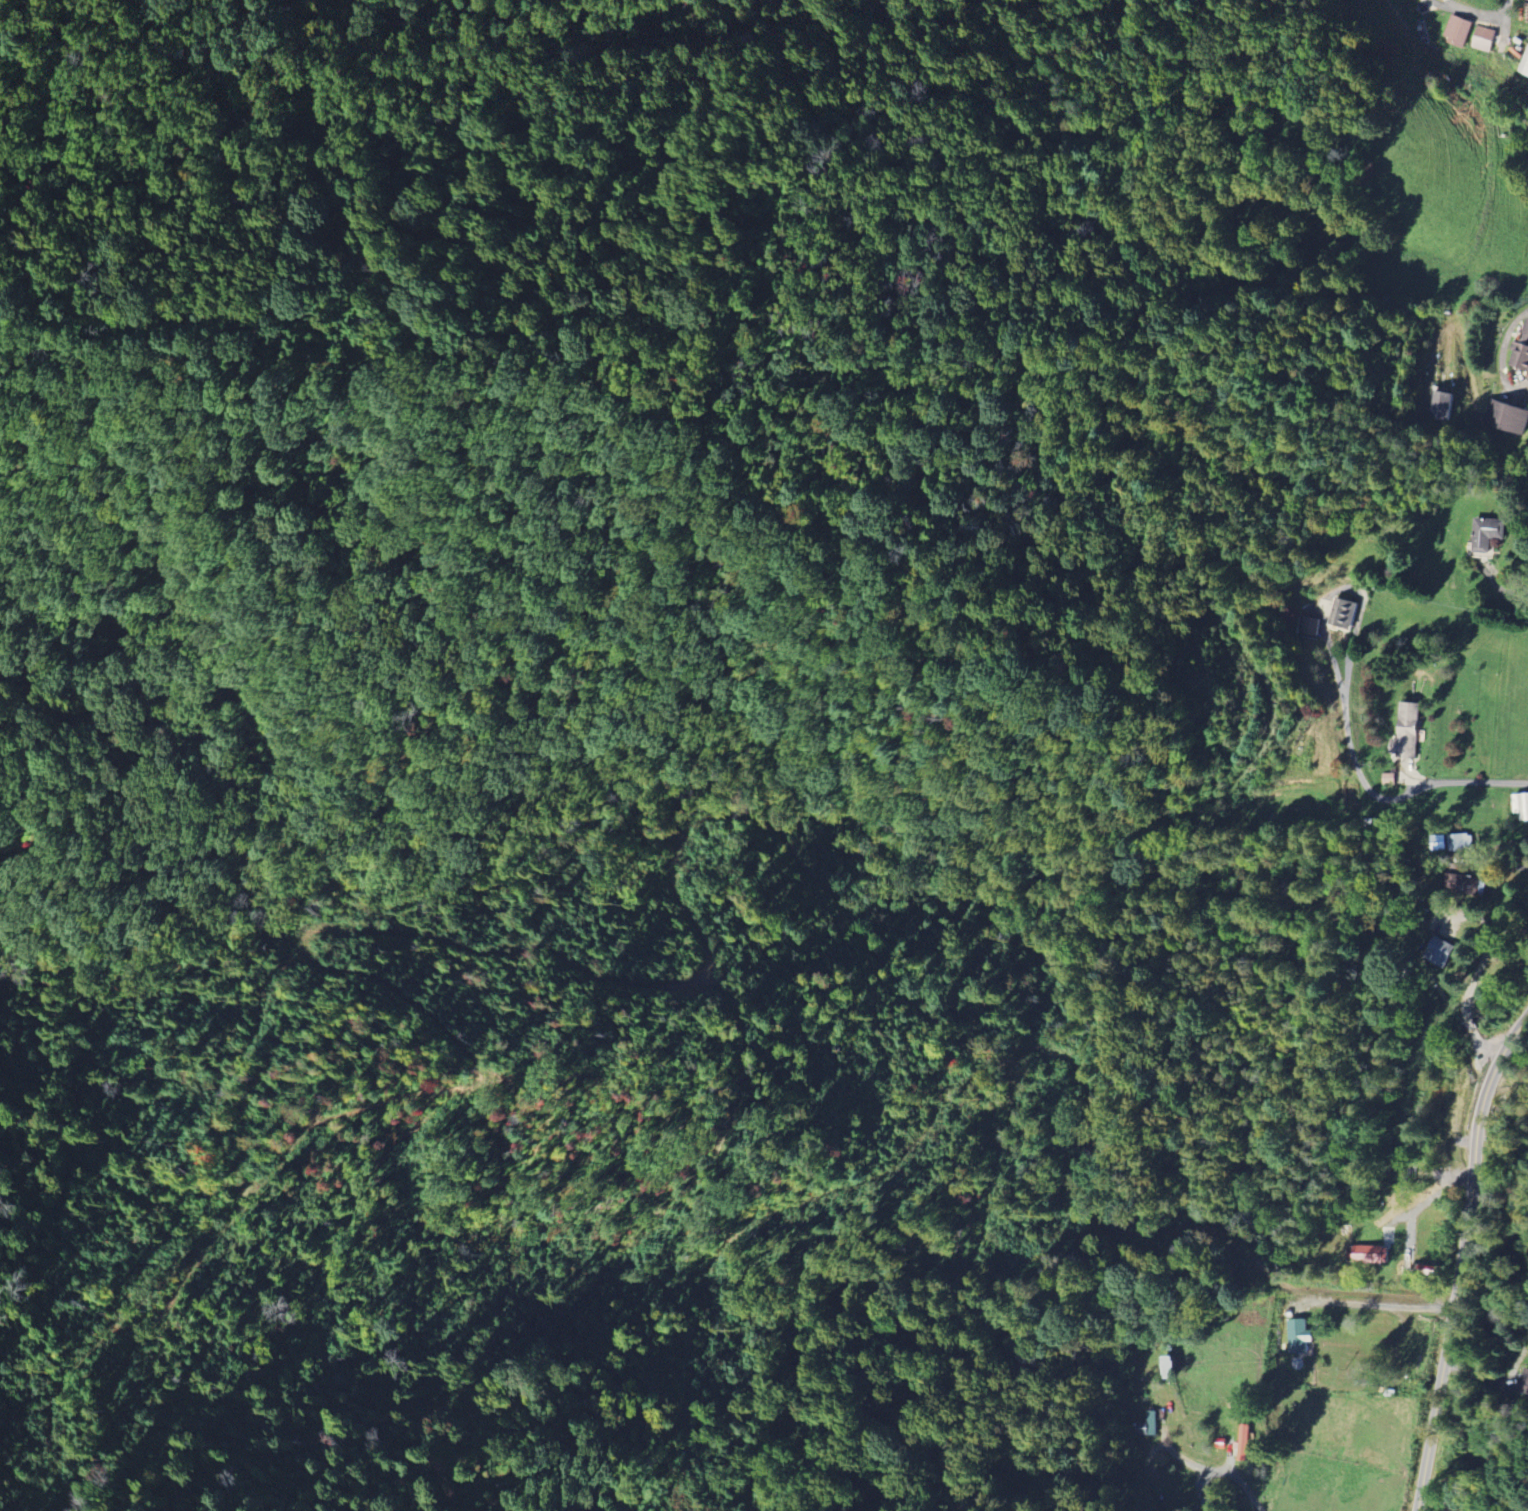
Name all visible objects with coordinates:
road: (1455, 8)
road: (1507, 9)
road: (1495, 16)
building: (1460, 31)
building: (1485, 39)
building: (1527, 70)
building: (1523, 352)
road: (1500, 355)
building: (1440, 405)
building: (1508, 416)
building: (1489, 534)
building: (1345, 614)
building: (1307, 626)
building: (1407, 733)
building: (1389, 779)
building: (1526, 807)
building: (1451, 842)
building: (1463, 885)
building: (1443, 952)
road: (1464, 1258)
building: (1301, 1337)
building: (1174, 1367)
road: (1492, 1378)
building: (1524, 1383)
building: (1149, 1426)
building: (1245, 1442)
road: (1439, 1502)

